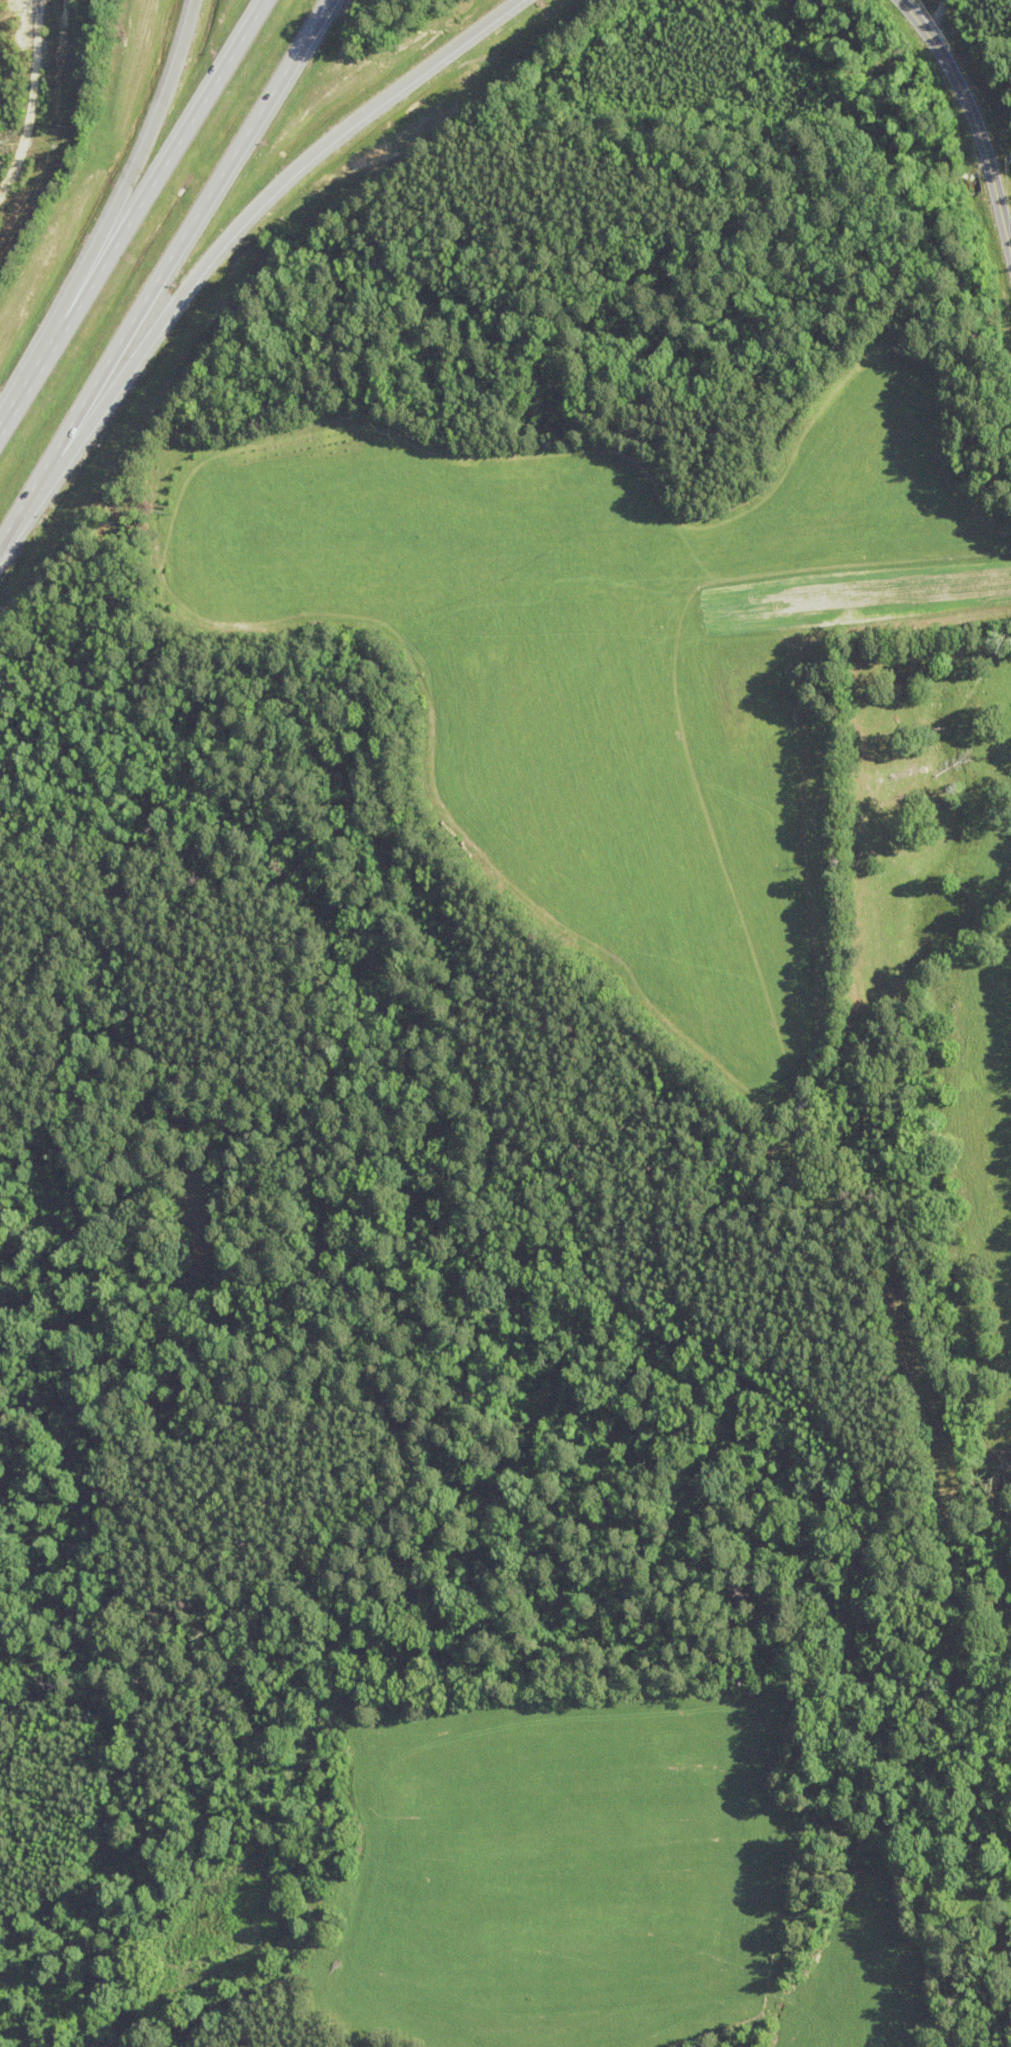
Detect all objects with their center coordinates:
road: (972, 114)
road: (129, 178)
road: (249, 214)
road: (133, 217)
road: (180, 240)
road: (18, 513)

